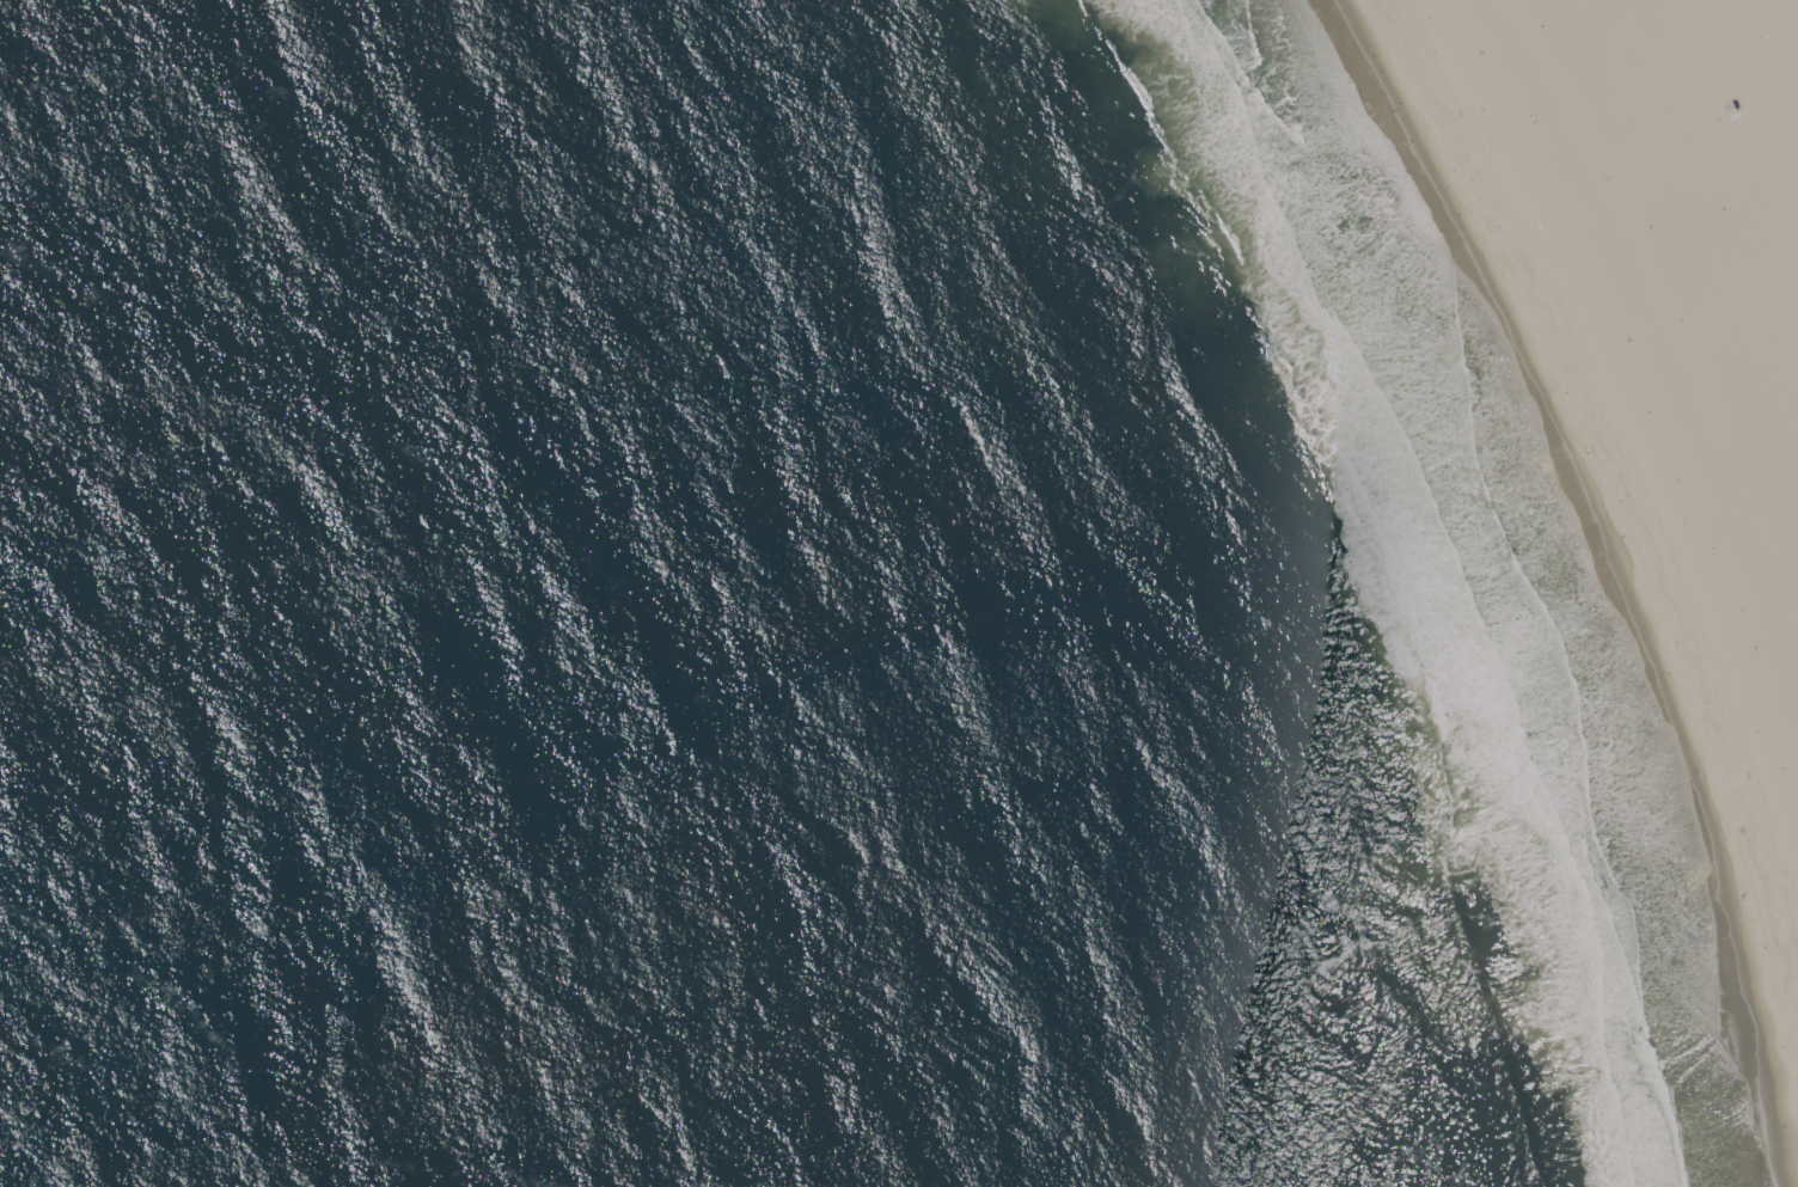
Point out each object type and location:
building: (1546, 203)
building: (1793, 849)

